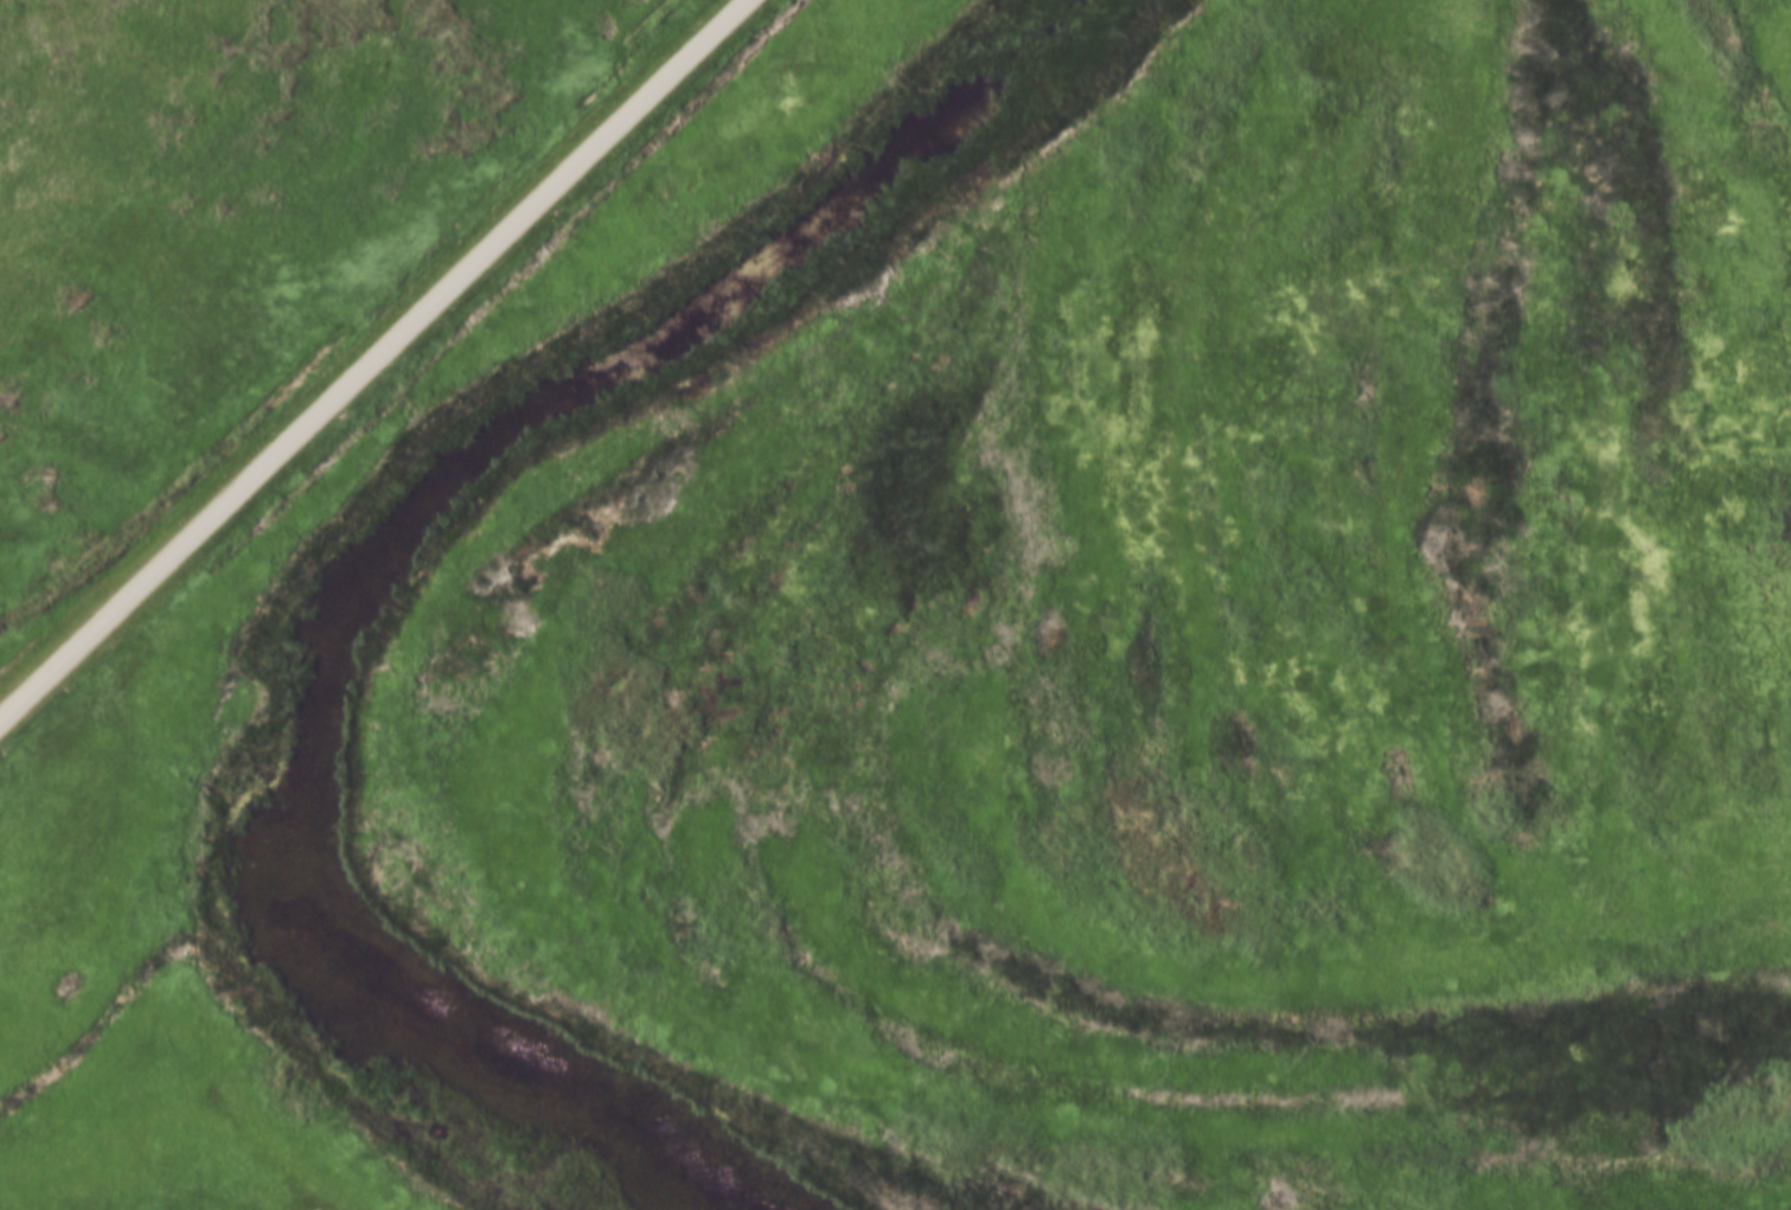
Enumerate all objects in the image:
road: (371, 358)

